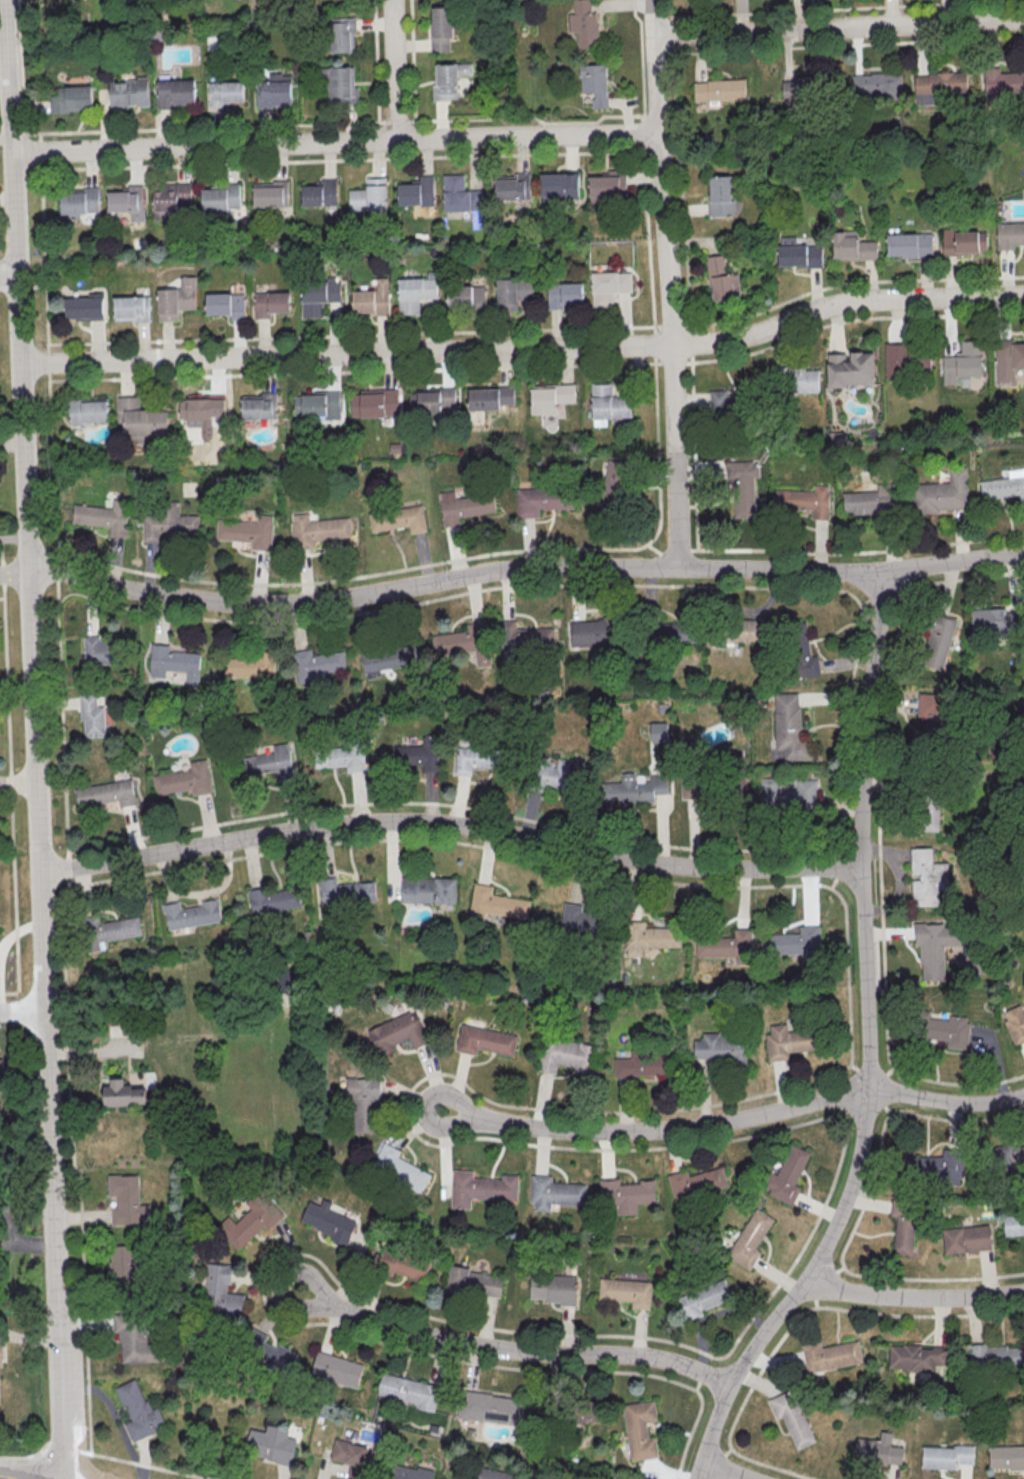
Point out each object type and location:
road: (843, 9)
park: (83, 23)
building: (585, 24)
road: (838, 27)
building: (442, 28)
building: (342, 33)
road: (829, 46)
road: (639, 57)
road: (393, 69)
building: (449, 79)
building: (340, 83)
building: (595, 83)
building: (804, 90)
building: (718, 91)
building: (173, 93)
building: (223, 93)
building: (127, 94)
building: (272, 94)
building: (70, 98)
road: (342, 123)
road: (335, 142)
building: (560, 185)
building: (604, 186)
building: (512, 187)
building: (415, 192)
building: (318, 193)
building: (271, 194)
building: (721, 195)
building: (367, 196)
building: (222, 197)
building: (172, 198)
building: (463, 198)
building: (125, 199)
building: (80, 202)
building: (1009, 236)
building: (965, 241)
building: (908, 246)
building: (851, 250)
building: (800, 255)
road: (647, 258)
road: (7, 275)
building: (720, 277)
road: (666, 283)
road: (21, 287)
building: (608, 287)
building: (511, 292)
building: (413, 293)
building: (565, 295)
building: (316, 297)
building: (467, 297)
building: (174, 299)
building: (372, 299)
building: (272, 304)
building: (225, 306)
building: (84, 308)
building: (131, 308)
road: (689, 328)
road: (348, 335)
road: (524, 347)
building: (906, 360)
building: (1007, 360)
building: (963, 362)
building: (854, 373)
building: (791, 381)
building: (549, 397)
building: (489, 398)
building: (430, 399)
building: (373, 402)
building: (727, 402)
building: (312, 403)
building: (608, 404)
building: (258, 405)
building: (200, 407)
building: (89, 411)
building: (139, 418)
road: (655, 456)
building: (742, 470)
building: (614, 487)
building: (1002, 487)
building: (940, 494)
building: (804, 500)
building: (541, 501)
building: (872, 501)
building: (464, 508)
building: (103, 515)
building: (397, 519)
building: (168, 522)
building: (315, 530)
building: (245, 532)
road: (13, 539)
road: (522, 568)
road: (13, 571)
building: (1003, 621)
building: (591, 631)
building: (671, 631)
building: (527, 637)
building: (459, 640)
building: (774, 641)
building: (938, 641)
building: (99, 650)
building: (387, 658)
building: (168, 660)
building: (319, 663)
building: (250, 666)
building: (933, 712)
building: (93, 716)
road: (59, 721)
building: (789, 729)
building: (658, 731)
road: (33, 739)
building: (416, 753)
building: (347, 757)
building: (477, 758)
building: (271, 762)
building: (555, 774)
building: (185, 779)
road: (17, 784)
building: (698, 787)
building: (646, 788)
building: (786, 792)
building: (105, 793)
road: (447, 804)
building: (930, 812)
road: (449, 824)
building: (927, 877)
building: (429, 890)
building: (364, 893)
building: (331, 894)
building: (275, 900)
building: (497, 903)
building: (191, 914)
building: (581, 919)
building: (108, 930)
building: (656, 937)
building: (792, 942)
building: (732, 944)
building: (937, 948)
road: (21, 1011)
building: (1015, 1024)
building: (949, 1030)
building: (400, 1031)
building: (485, 1040)
building: (789, 1041)
road: (868, 1045)
building: (720, 1048)
building: (566, 1055)
building: (642, 1065)
building: (122, 1093)
road: (946, 1102)
building: (364, 1103)
road: (656, 1128)
building: (1009, 1154)
building: (399, 1166)
building: (935, 1169)
building: (788, 1175)
building: (688, 1184)
building: (487, 1189)
building: (554, 1193)
building: (629, 1194)
building: (127, 1200)
building: (250, 1222)
building: (328, 1222)
building: (904, 1223)
building: (1014, 1224)
road: (9, 1229)
building: (751, 1237)
building: (967, 1238)
road: (29, 1243)
road: (47, 1245)
building: (402, 1264)
building: (122, 1268)
building: (472, 1282)
building: (558, 1289)
building: (626, 1291)
building: (219, 1293)
road: (915, 1295)
building: (704, 1298)
building: (136, 1340)
road: (510, 1349)
building: (269, 1352)
building: (832, 1355)
building: (918, 1355)
building: (997, 1357)
building: (0, 1360)
building: (336, 1368)
building: (408, 1389)
building: (491, 1407)
building: (139, 1410)
building: (591, 1410)
building: (793, 1419)
building: (640, 1429)
building: (272, 1443)
building: (880, 1449)
road: (106, 1455)
building: (948, 1456)
building: (351, 1457)
building: (1006, 1458)
road: (727, 1471)
building: (413, 1472)
building: (485, 1473)
road: (11, 1476)

